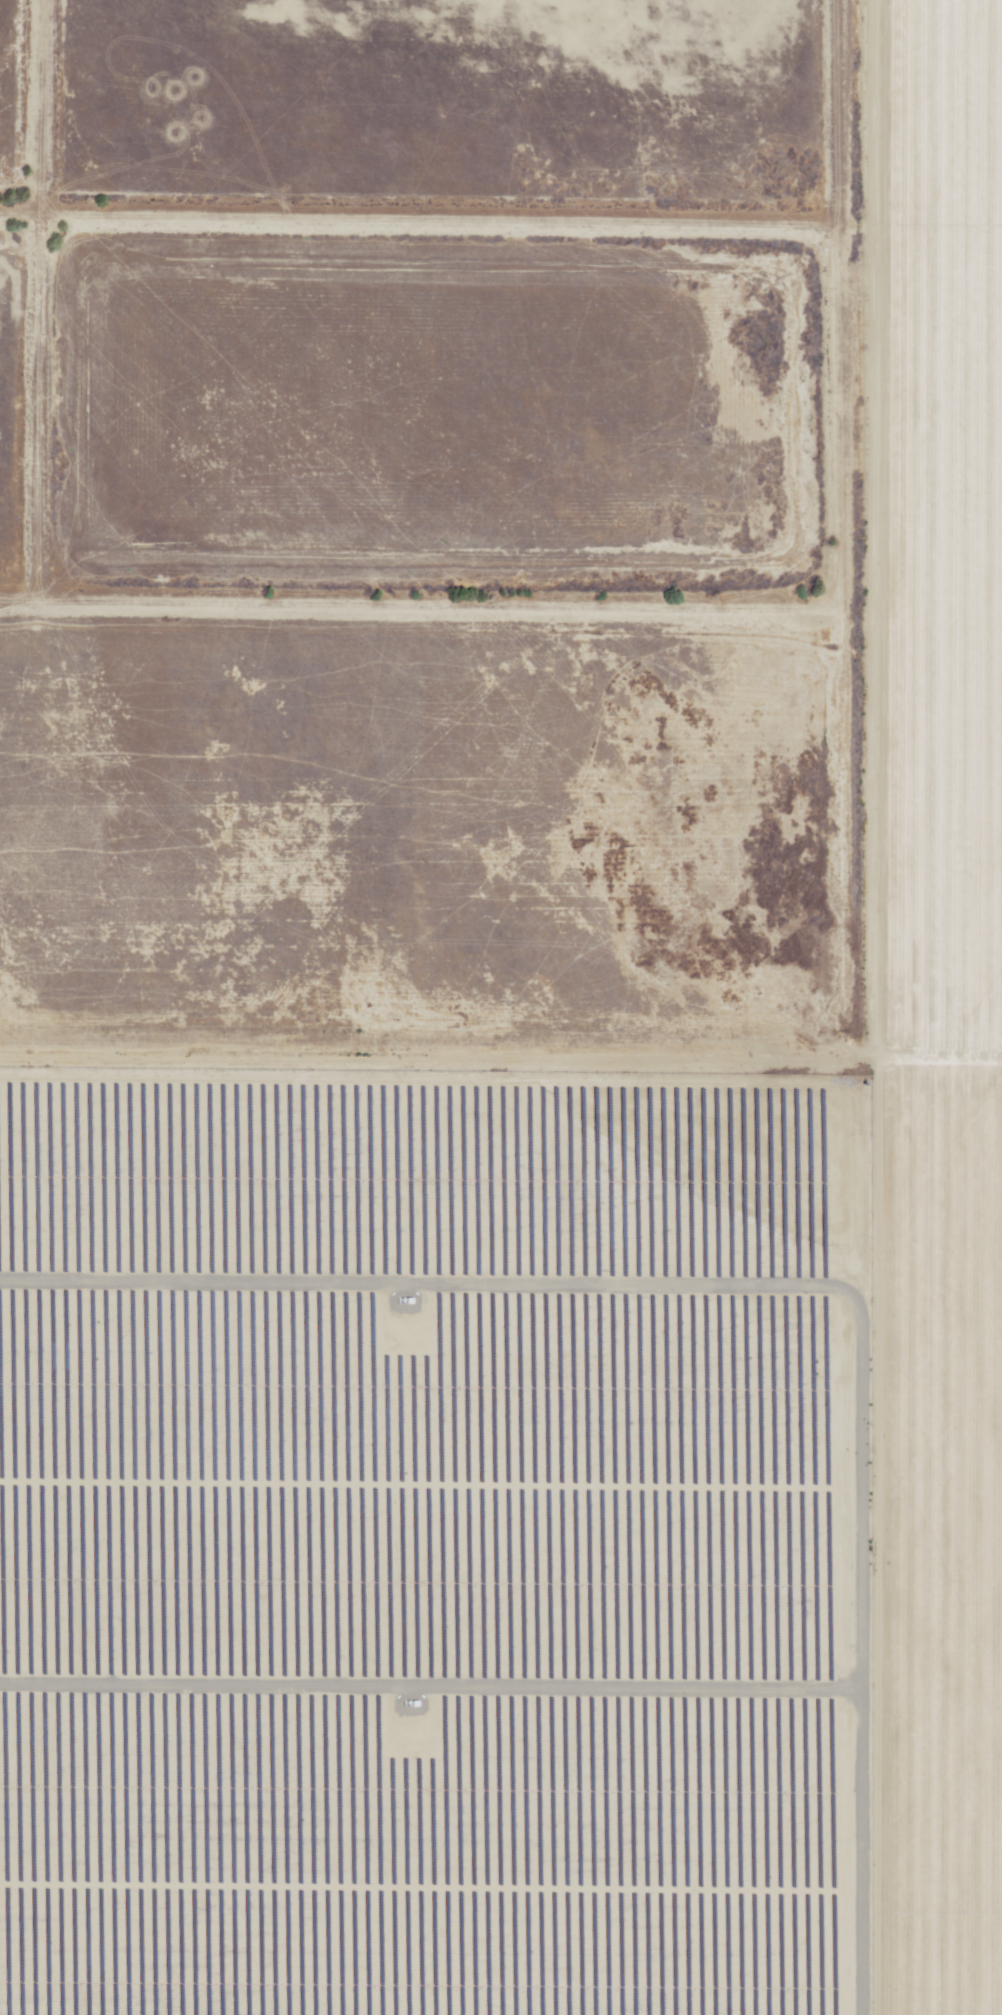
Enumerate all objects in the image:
road: (871, 1007)
road: (937, 1059)
solar farm: (431, 1544)

